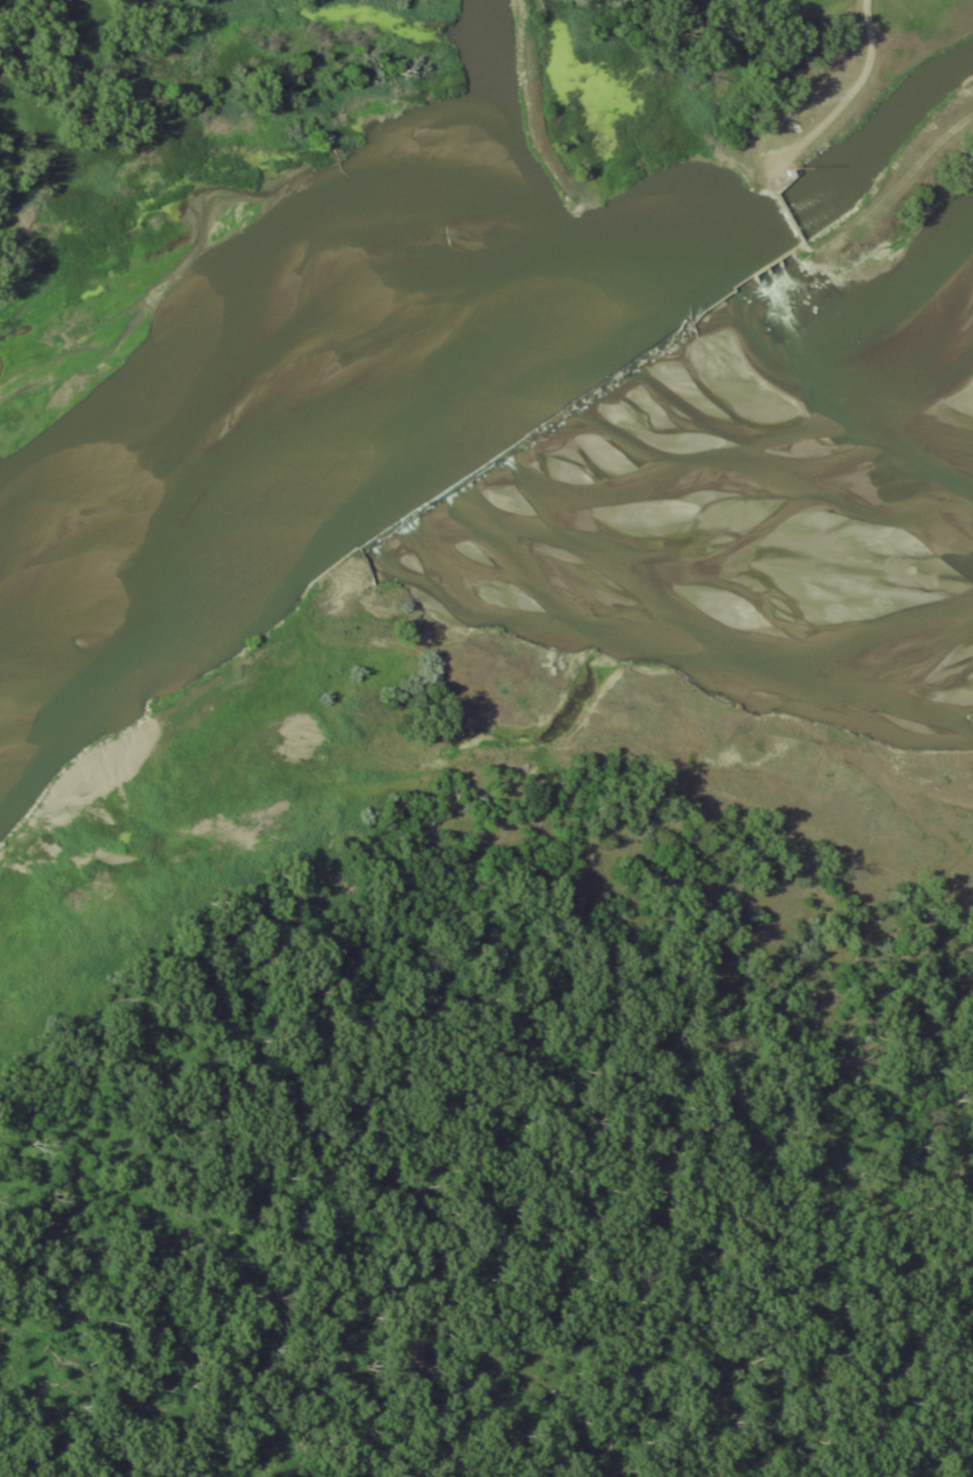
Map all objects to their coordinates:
road: (787, 19)
road: (844, 98)
road: (909, 174)
river: (437, 285)

